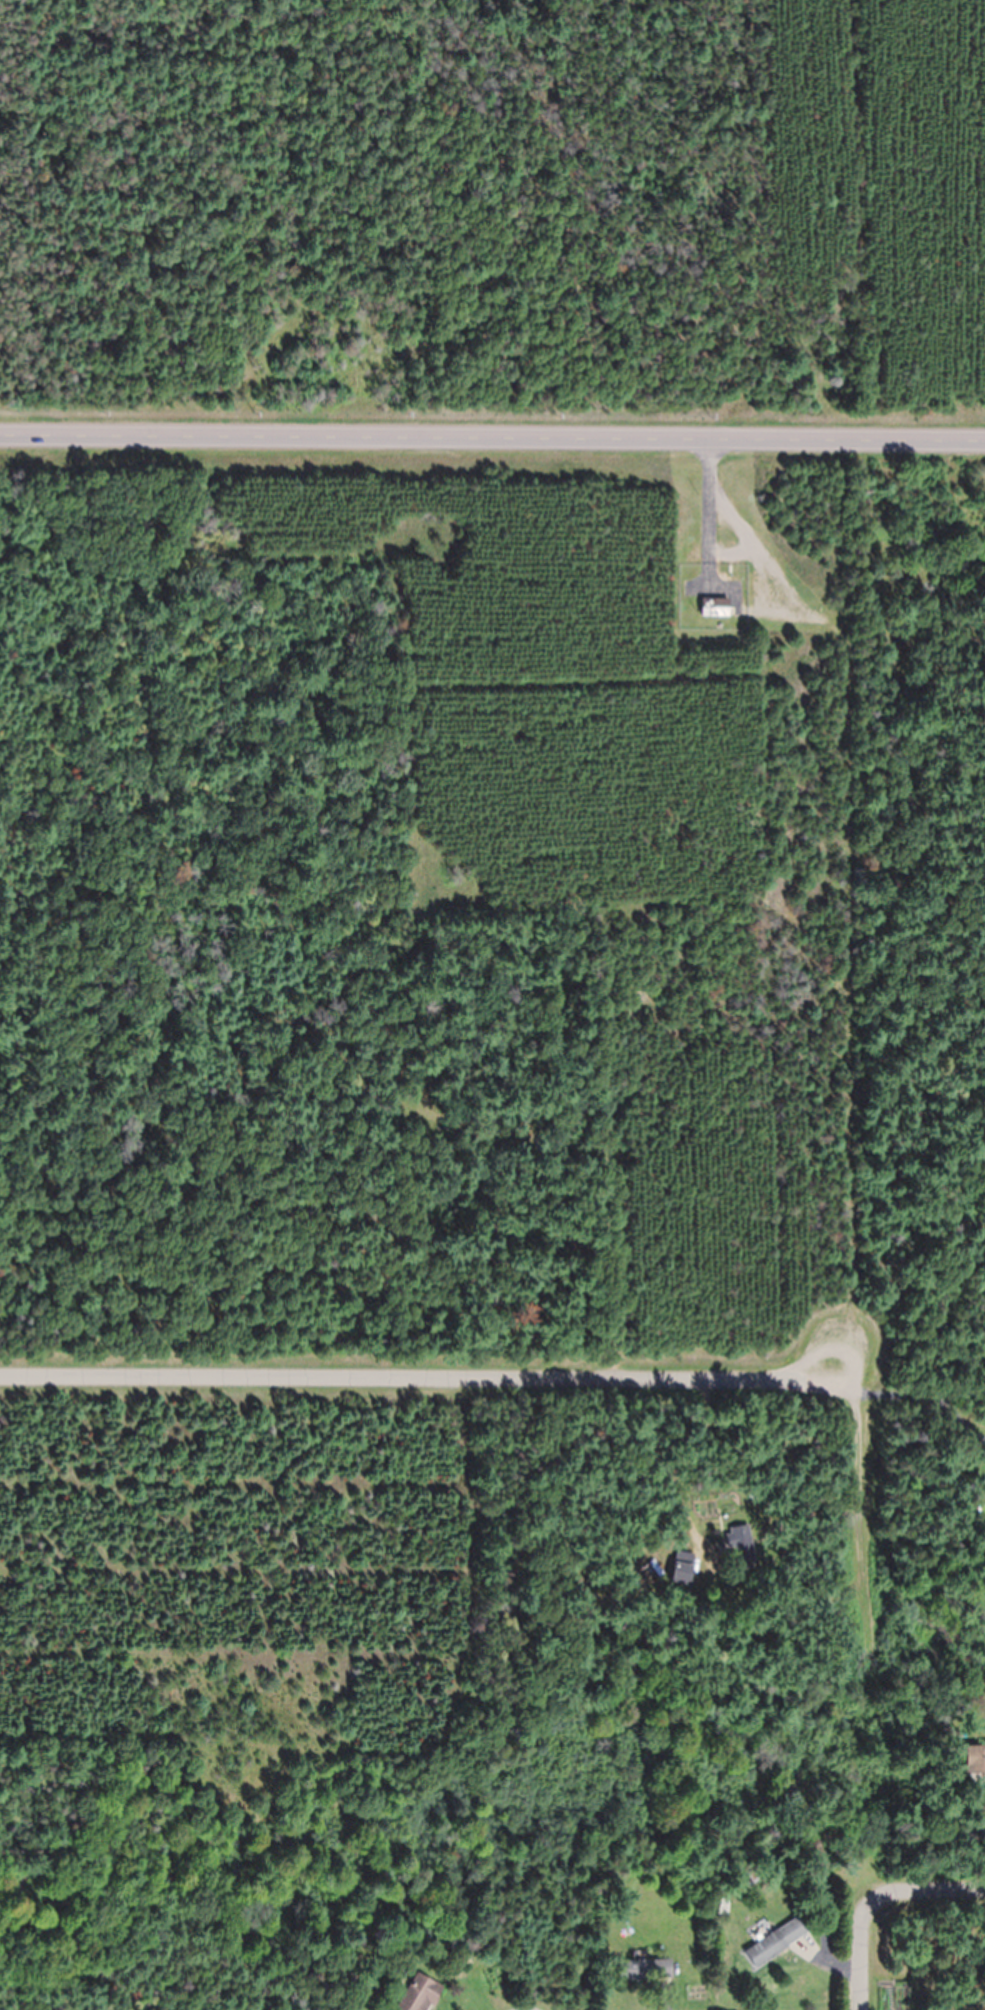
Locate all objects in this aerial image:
road: (492, 439)
building: (714, 606)
road: (427, 1380)
road: (849, 1510)
building: (682, 1567)
building: (979, 1759)
road: (937, 1889)
building: (776, 1941)
road: (859, 1943)
building: (644, 1970)
building: (419, 1994)

